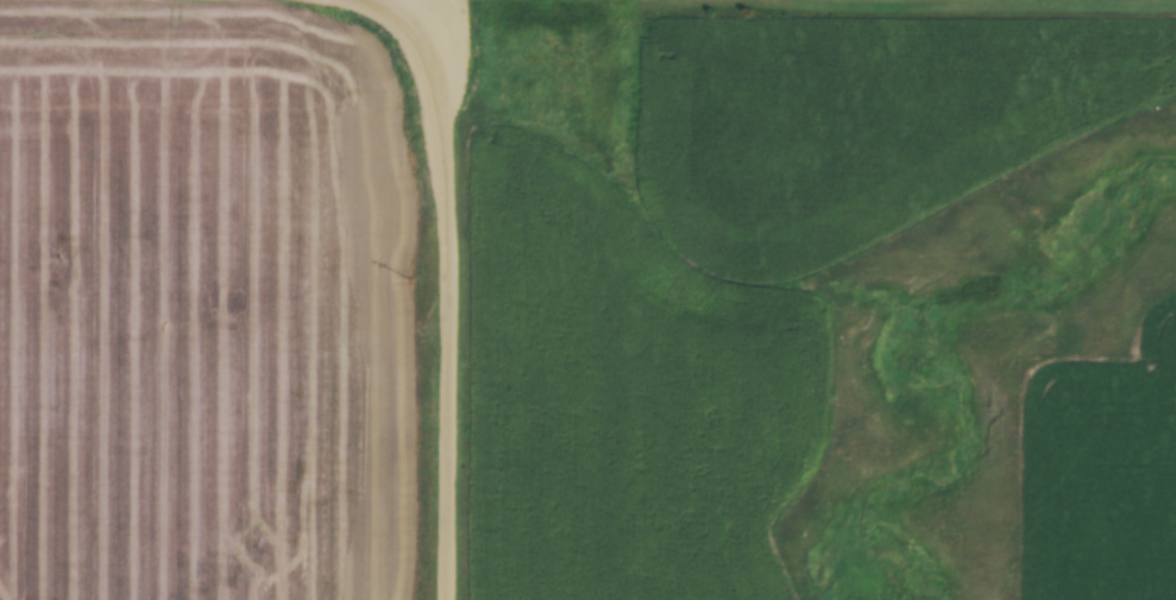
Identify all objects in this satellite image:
road: (439, 297)

